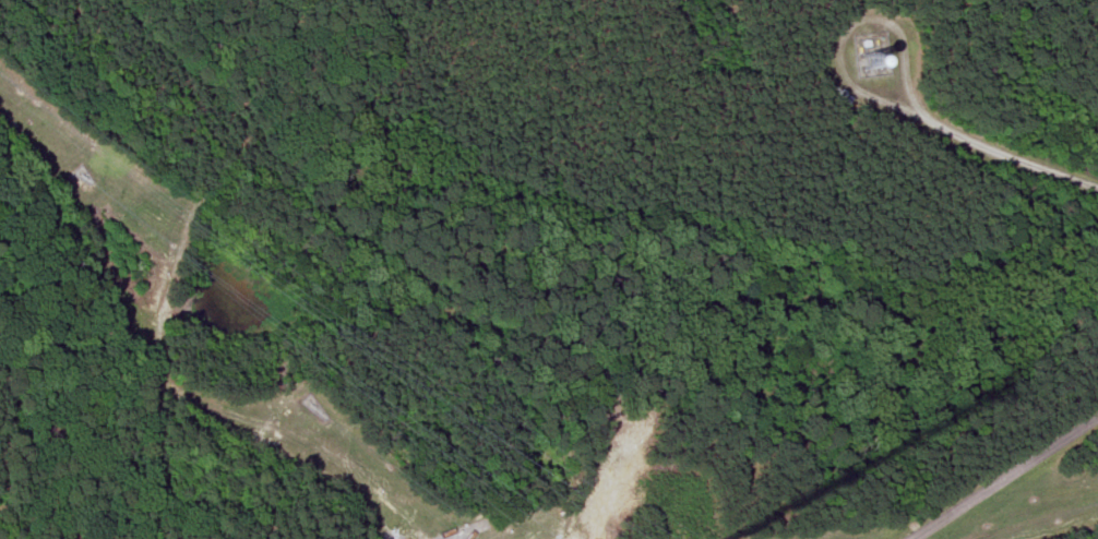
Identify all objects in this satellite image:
road: (983, 137)
road: (1001, 476)

